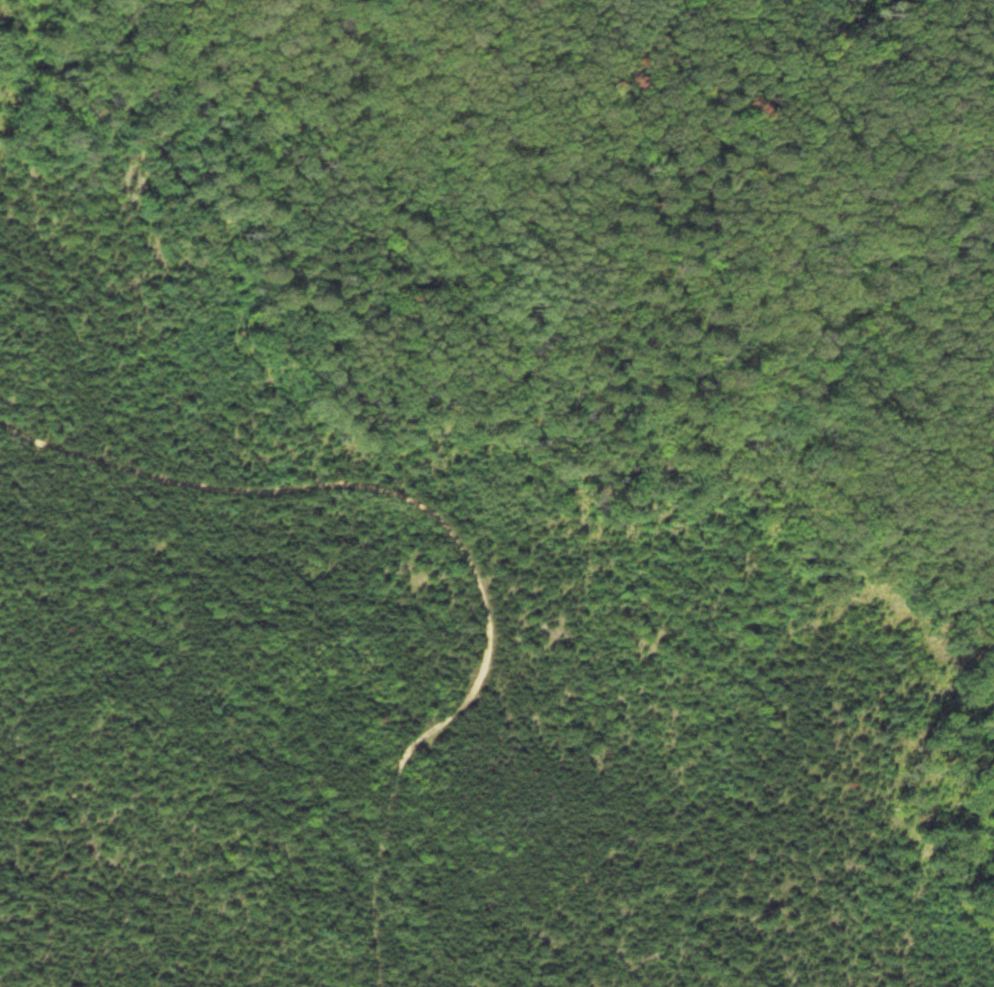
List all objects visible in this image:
road: (457, 540)

